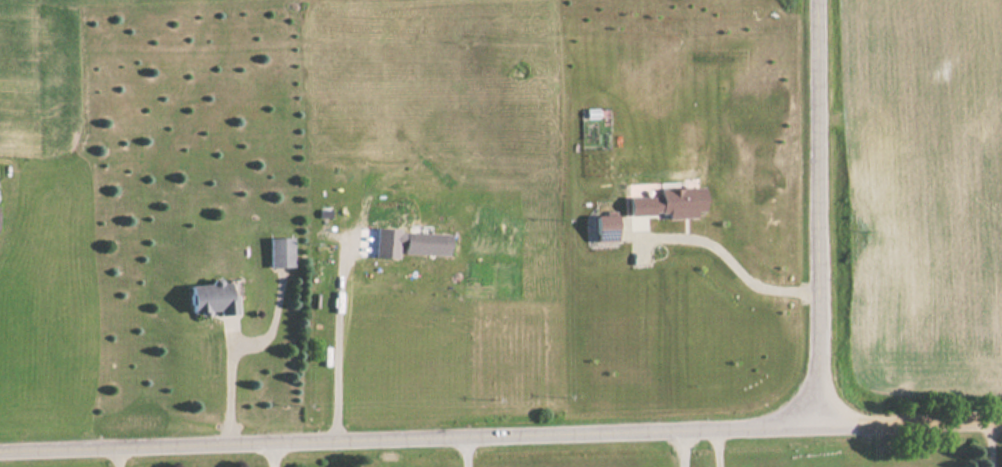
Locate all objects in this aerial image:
road: (814, 212)
building: (424, 243)
building: (280, 251)
building: (213, 298)
road: (928, 420)
road: (427, 436)

